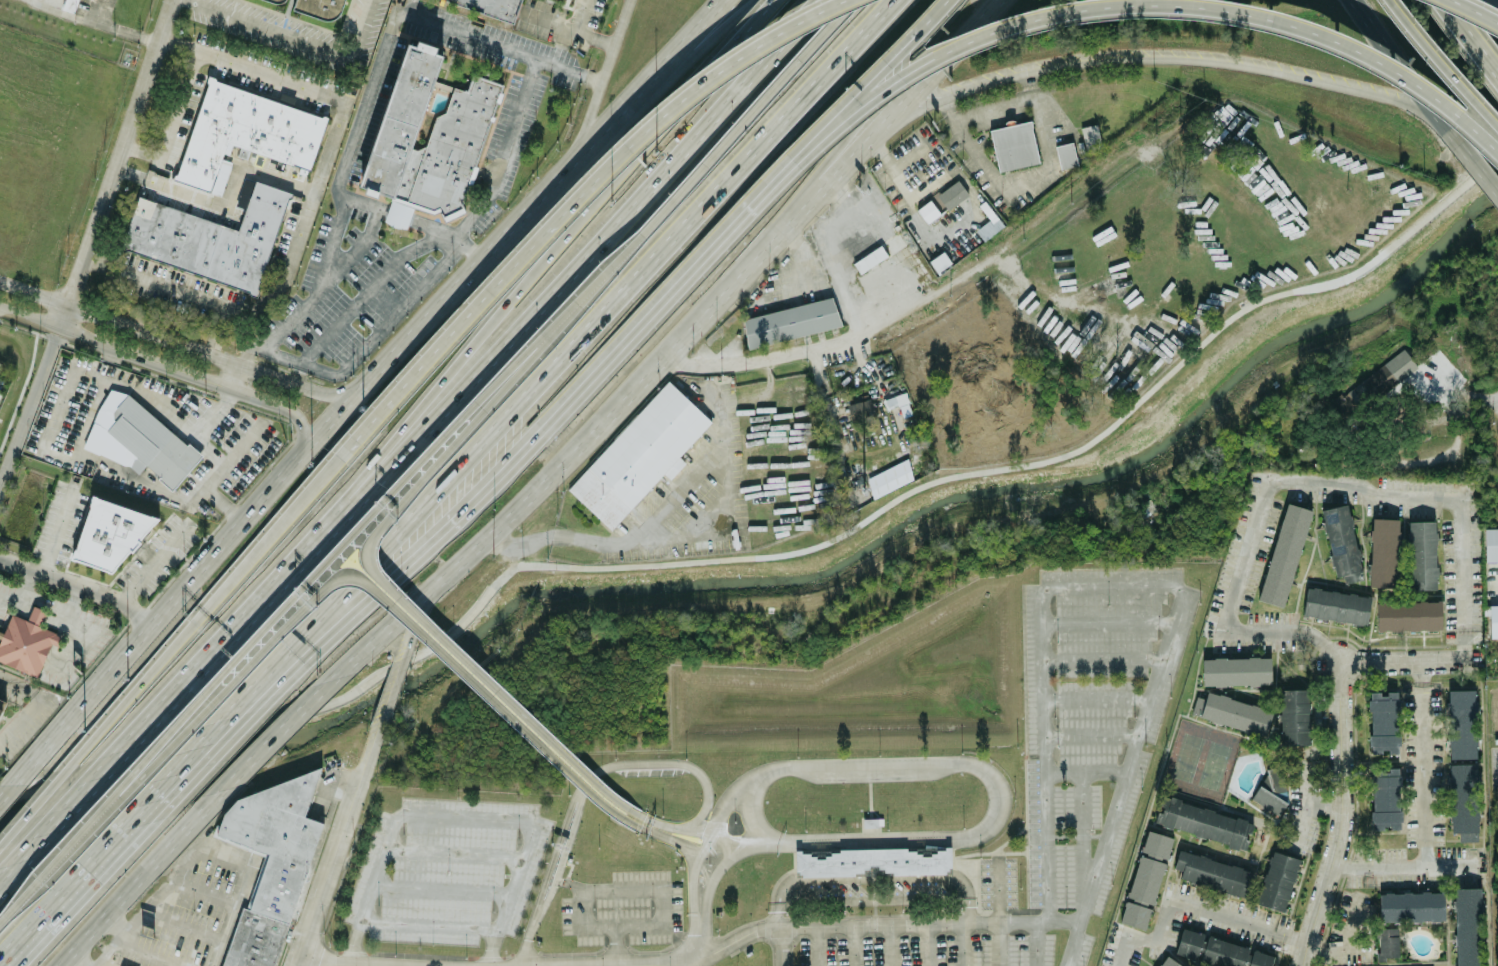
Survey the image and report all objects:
building: (281, 0)
road: (1143, 4)
building: (71, 5)
road: (411, 6)
building: (491, 6)
road: (723, 6)
road: (725, 6)
building: (321, 8)
road: (1478, 9)
road: (581, 14)
road: (93, 22)
road: (567, 25)
road: (823, 30)
road: (299, 39)
road: (1467, 40)
road: (498, 44)
road: (730, 49)
road: (1159, 59)
road: (1444, 63)
road: (252, 68)
road: (1401, 73)
road: (599, 78)
road: (868, 80)
road: (170, 119)
building: (245, 131)
building: (428, 136)
building: (1090, 136)
building: (1014, 145)
road: (833, 147)
road: (863, 150)
road: (505, 151)
building: (1066, 154)
road: (1476, 172)
road: (775, 176)
road: (778, 177)
road: (1020, 183)
road: (685, 184)
road: (930, 185)
road: (584, 192)
building: (952, 194)
road: (841, 198)
road: (226, 201)
road: (341, 201)
road: (912, 207)
building: (928, 211)
road: (413, 220)
building: (989, 221)
building: (208, 238)
road: (90, 240)
building: (861, 243)
road: (354, 248)
road: (800, 251)
building: (887, 256)
building: (940, 262)
road: (369, 288)
road: (1043, 288)
road: (273, 292)
road: (910, 306)
road: (641, 321)
building: (790, 321)
road: (64, 330)
road: (218, 330)
road: (372, 338)
road: (177, 343)
road: (501, 348)
road: (564, 354)
road: (179, 370)
road: (233, 375)
building: (1384, 376)
road: (127, 384)
road: (357, 390)
road: (823, 391)
road: (247, 393)
road: (706, 393)
road: (429, 394)
building: (1347, 402)
road: (1488, 402)
building: (859, 411)
road: (295, 417)
building: (151, 443)
road: (726, 456)
building: (639, 457)
road: (1303, 481)
road: (533, 488)
road: (58, 526)
road: (277, 526)
road: (552, 532)
building: (106, 536)
building: (1342, 543)
building: (1491, 543)
road: (780, 552)
building: (1384, 552)
building: (1284, 553)
building: (1421, 554)
road: (155, 560)
road: (389, 575)
road: (1497, 576)
road: (358, 578)
river: (786, 581)
road: (79, 584)
road: (23, 585)
road: (388, 585)
road: (14, 601)
road: (45, 603)
road: (73, 604)
building: (1336, 605)
road: (281, 609)
road: (38, 611)
building: (1408, 614)
building: (1493, 620)
road: (1107, 621)
road: (412, 624)
road: (82, 635)
building: (26, 641)
road: (1101, 655)
road: (1411, 661)
building: (1236, 670)
road: (393, 685)
road: (136, 688)
road: (1150, 690)
parking lot: (1094, 691)
road: (1096, 697)
building: (2, 700)
road: (41, 701)
building: (1232, 711)
road: (144, 715)
building: (1293, 715)
building: (1383, 721)
building: (1461, 722)
road: (284, 731)
road: (217, 733)
road: (1091, 733)
road: (204, 736)
road: (1026, 746)
road: (371, 747)
road: (1044, 752)
road: (981, 762)
road: (1423, 763)
road: (1084, 770)
road: (590, 773)
road: (6, 790)
building: (1271, 791)
road: (149, 796)
building: (1384, 798)
road: (38, 801)
building: (1463, 801)
road: (1304, 803)
road: (1323, 804)
road: (61, 805)
road: (750, 811)
road: (461, 817)
road: (1342, 817)
building: (1203, 822)
road: (682, 828)
road: (666, 838)
building: (277, 839)
road: (732, 840)
road: (1081, 845)
road: (454, 848)
building: (872, 860)
road: (872, 860)
road: (560, 862)
road: (1408, 865)
road: (327, 868)
road: (2, 870)
building: (1213, 872)
road: (713, 877)
road: (143, 878)
road: (873, 878)
building: (1145, 879)
road: (691, 881)
building: (1278, 881)
road: (875, 882)
road: (442, 885)
road: (629, 887)
road: (873, 888)
road: (240, 890)
road: (200, 892)
road: (60, 893)
road: (874, 899)
road: (1188, 904)
building: (1410, 906)
road: (143, 907)
road: (874, 909)
road: (1016, 910)
road: (983, 911)
road: (997, 911)
road: (926, 912)
road: (776, 915)
road: (829, 915)
road: (1351, 918)
road: (1063, 920)
road: (1023, 921)
road: (875, 922)
road: (891, 923)
road: (429, 924)
road: (113, 926)
road: (179, 927)
road: (781, 938)
building: (253, 941)
building: (1387, 942)
road: (741, 943)
road: (1000, 943)
road: (1035, 943)
road: (1073, 943)
road: (890, 944)
road: (926, 944)
road: (962, 944)
road: (616, 945)
road: (813, 945)
road: (853, 945)
road: (696, 946)
road: (1335, 947)
building: (1220, 950)
road: (772, 951)
road: (547, 952)
road: (790, 952)
road: (142, 954)
building: (1468, 959)
road: (74, 961)
building: (1167, 961)
road: (633, 963)
road: (293, 964)
road: (322, 964)
building: (122, 965)

